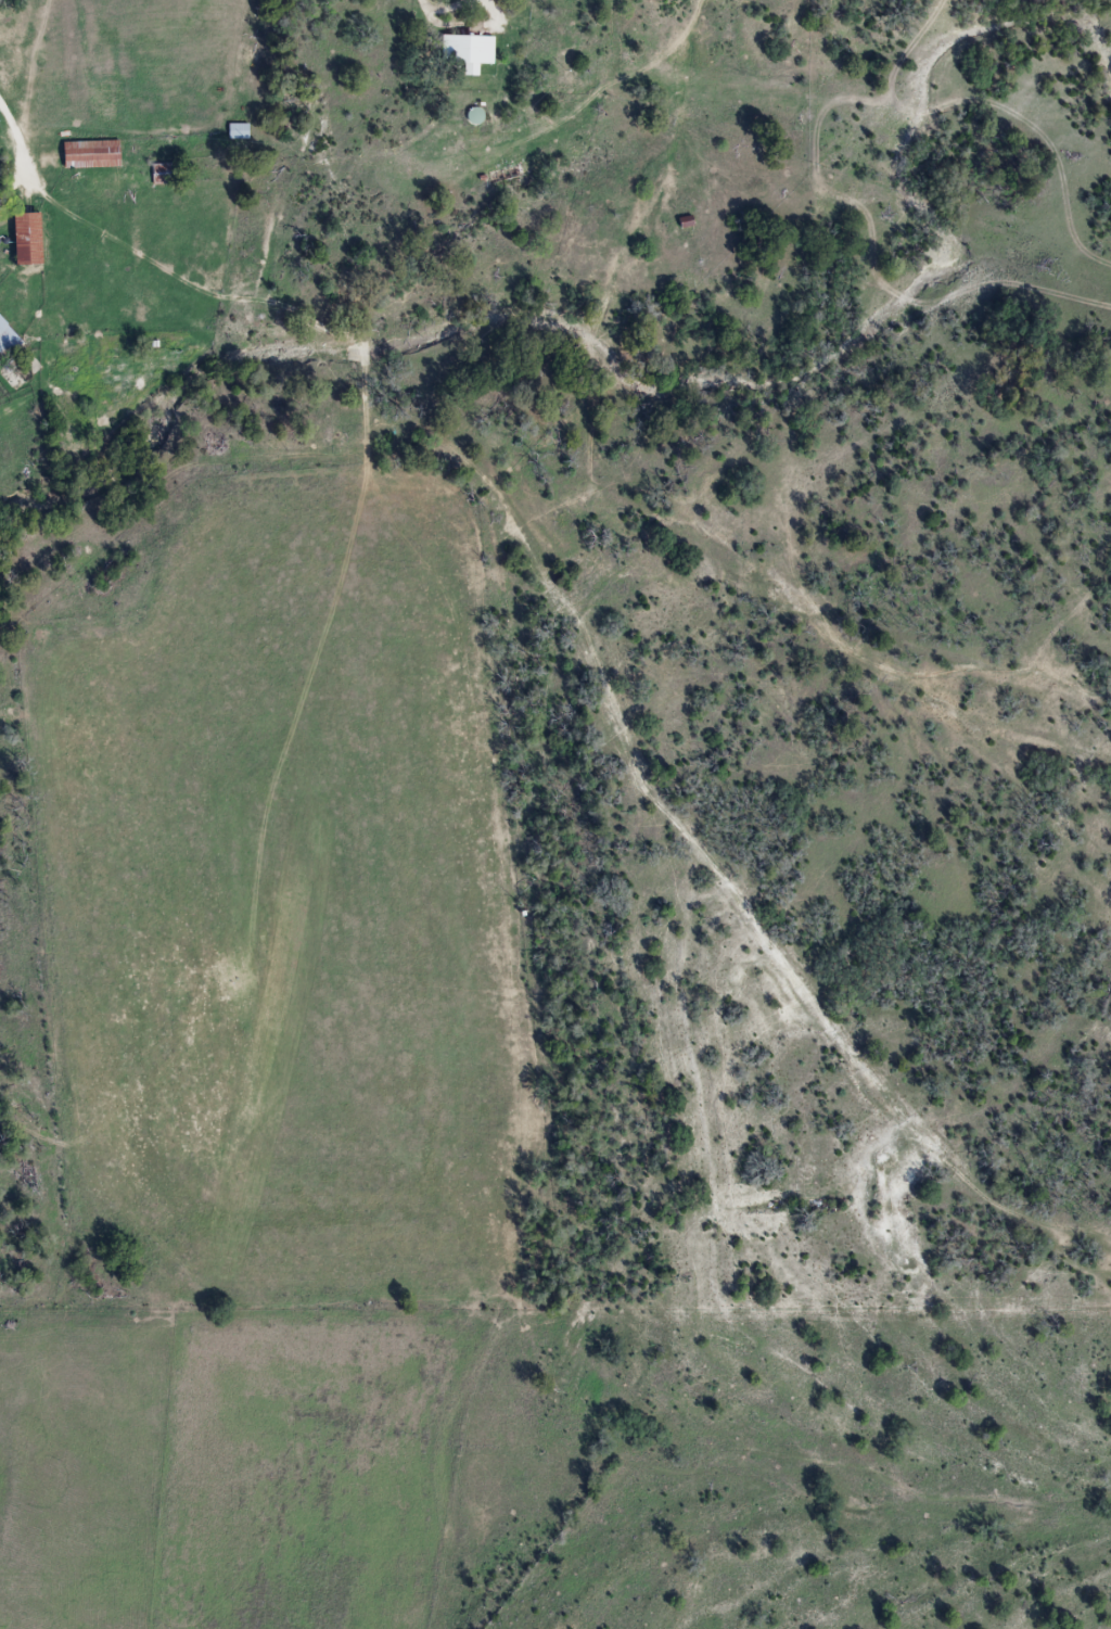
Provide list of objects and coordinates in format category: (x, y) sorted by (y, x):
building: (462, 49)
building: (234, 130)
road: (16, 136)
building: (82, 154)
building: (16, 237)
road: (598, 282)
building: (4, 339)
road: (710, 791)
road: (459, 1374)
road: (903, 1481)

